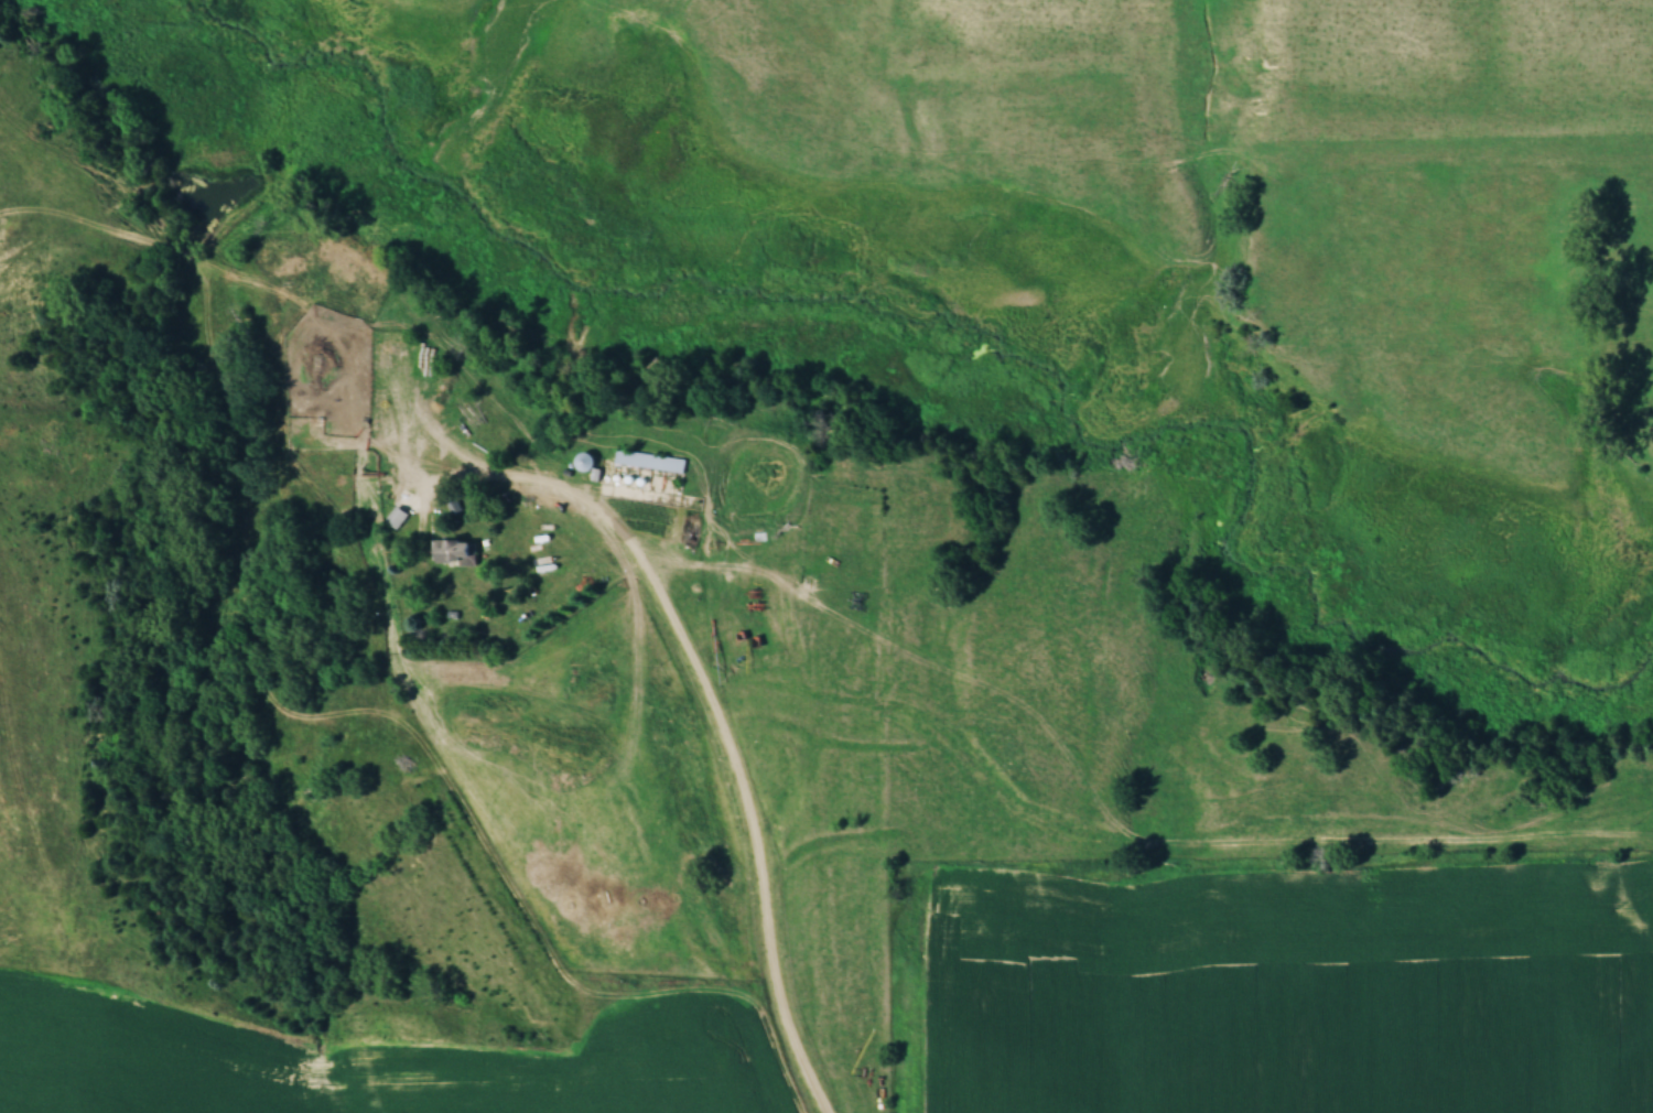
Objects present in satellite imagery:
building: (647, 460)
building: (581, 461)
building: (395, 517)
building: (451, 551)
road: (720, 725)

